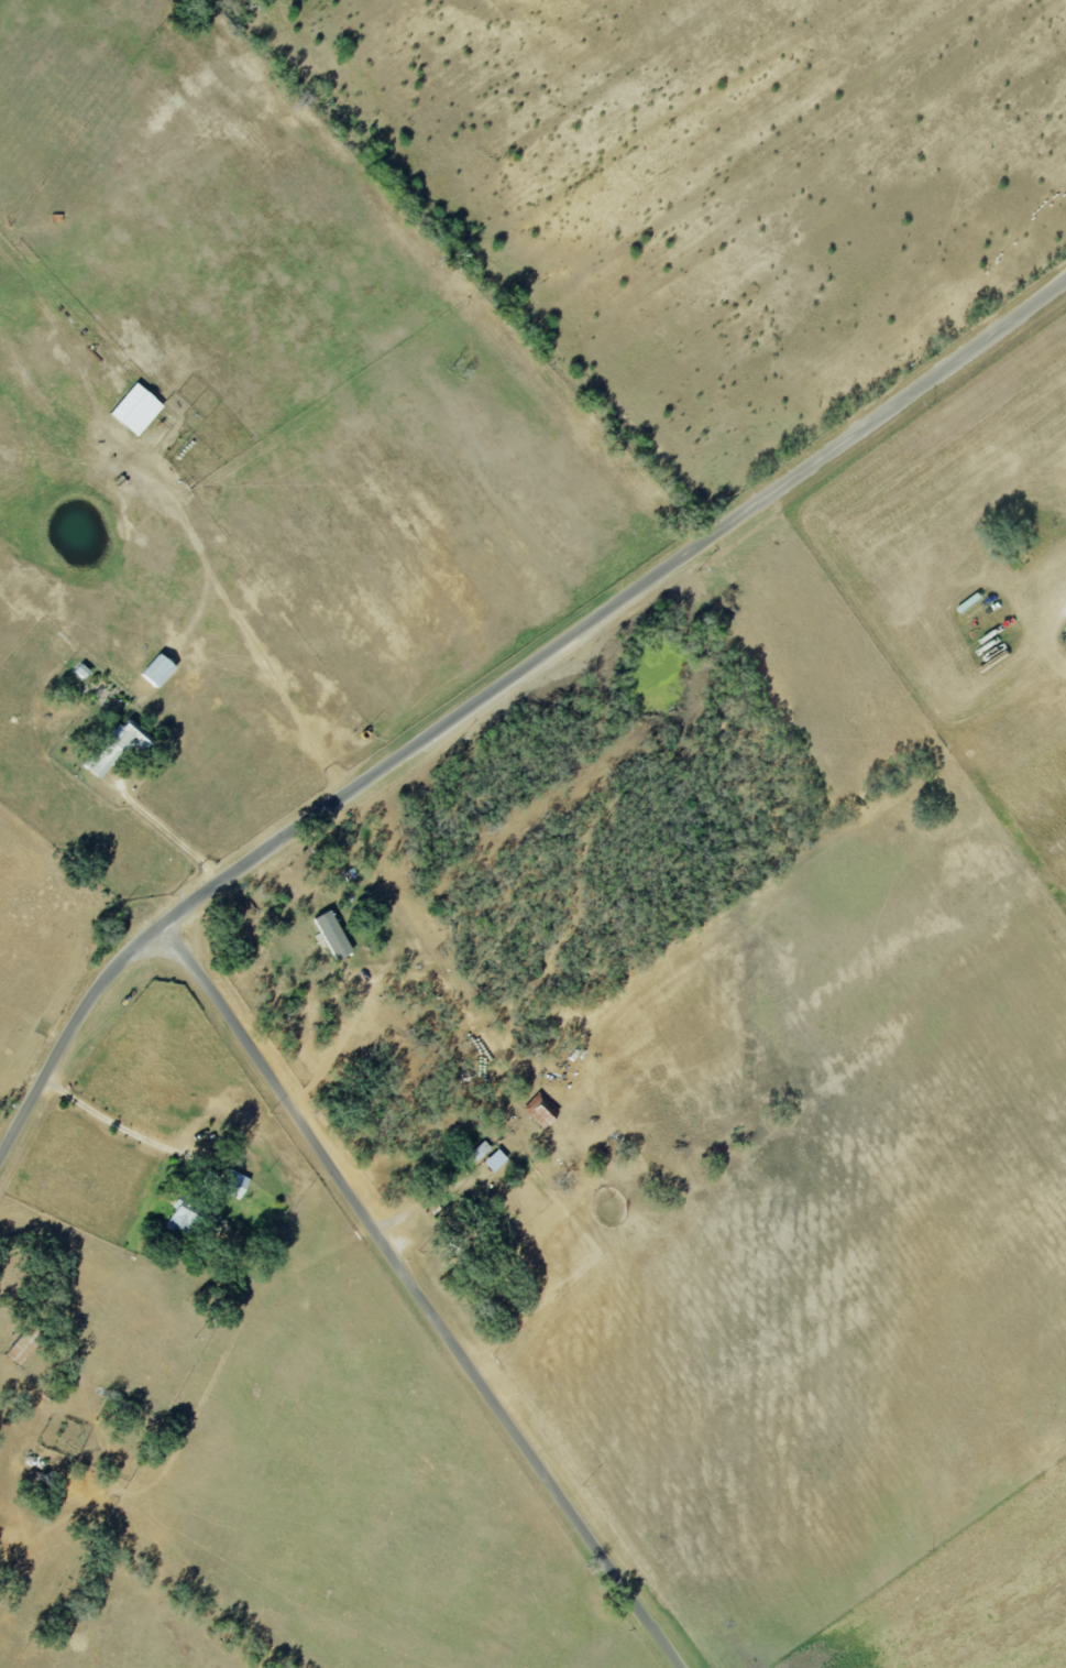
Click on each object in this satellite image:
building: (161, 671)
road: (488, 684)
building: (118, 748)
road: (169, 826)
road: (185, 927)
building: (334, 935)
road: (162, 952)
road: (344, 1037)
building: (542, 1110)
road: (109, 1125)
building: (235, 1184)
building: (182, 1218)
road: (438, 1311)

